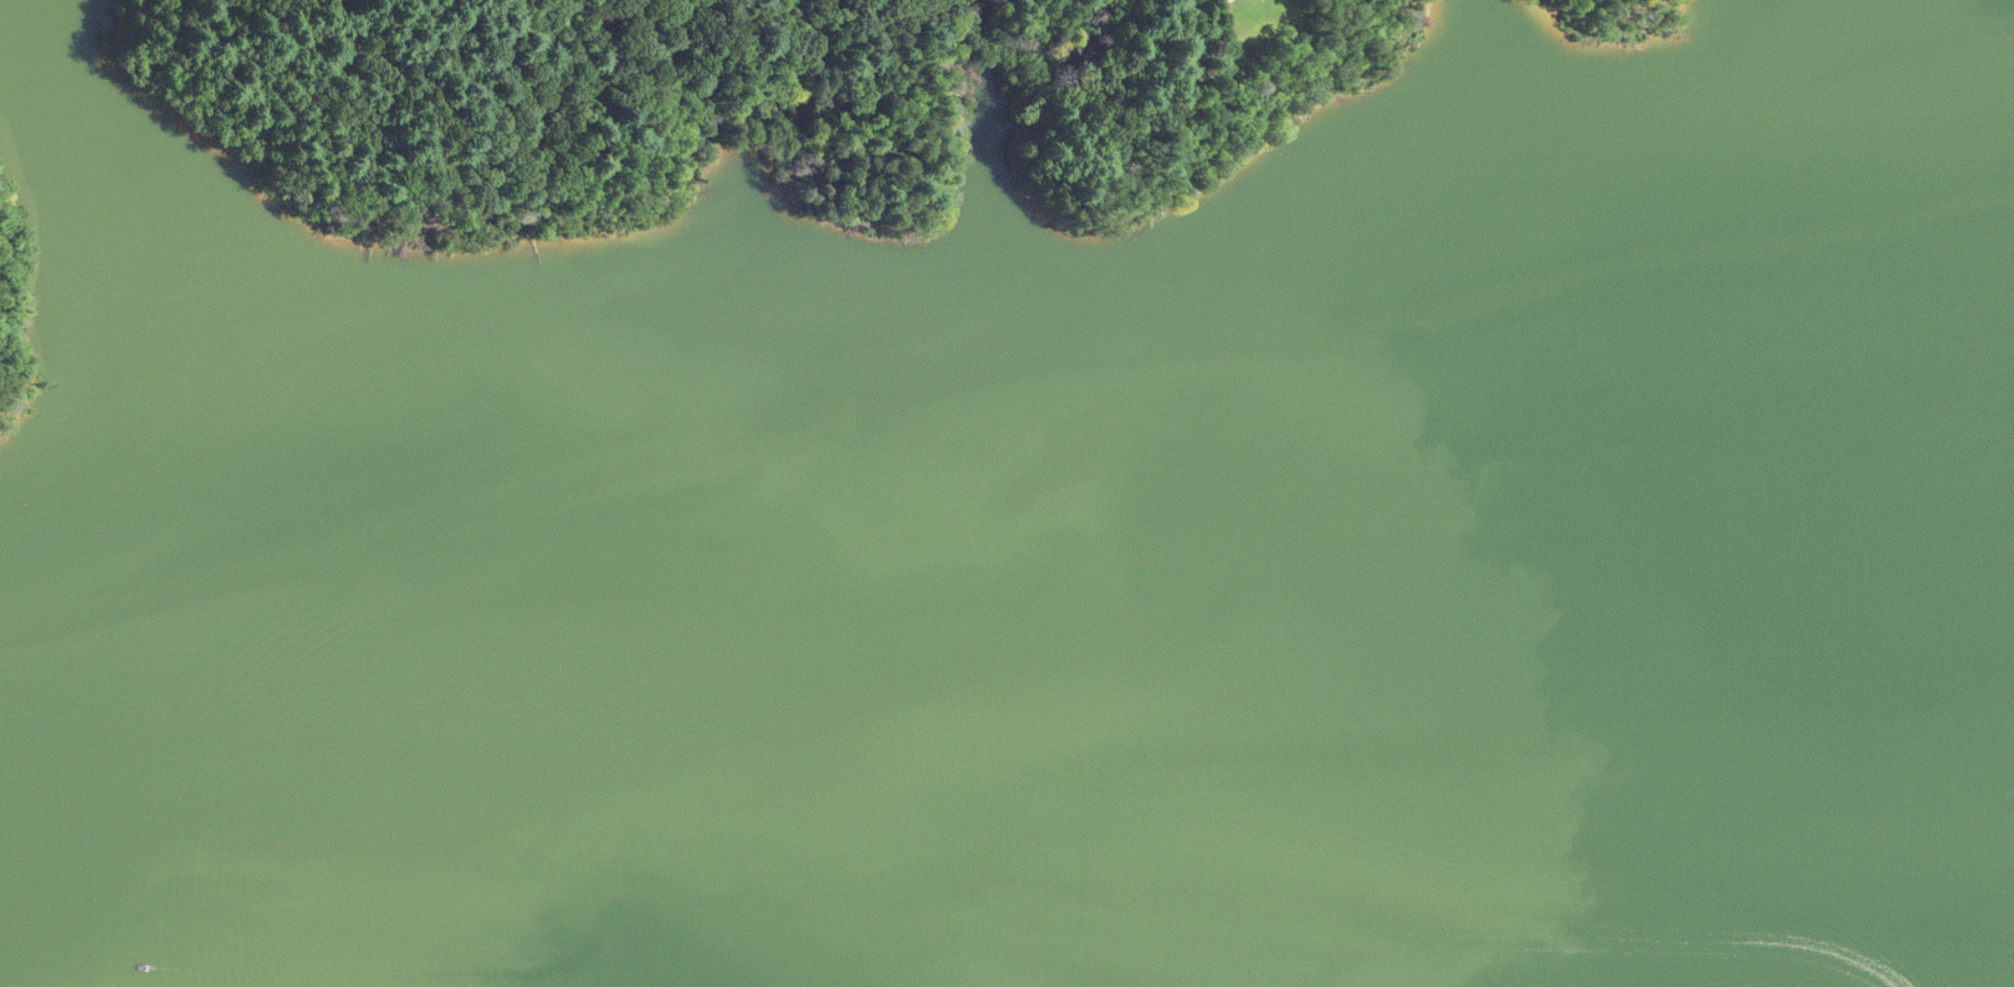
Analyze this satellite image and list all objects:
building: (1245, 0)
building: (1224, 2)
river: (1017, 640)

